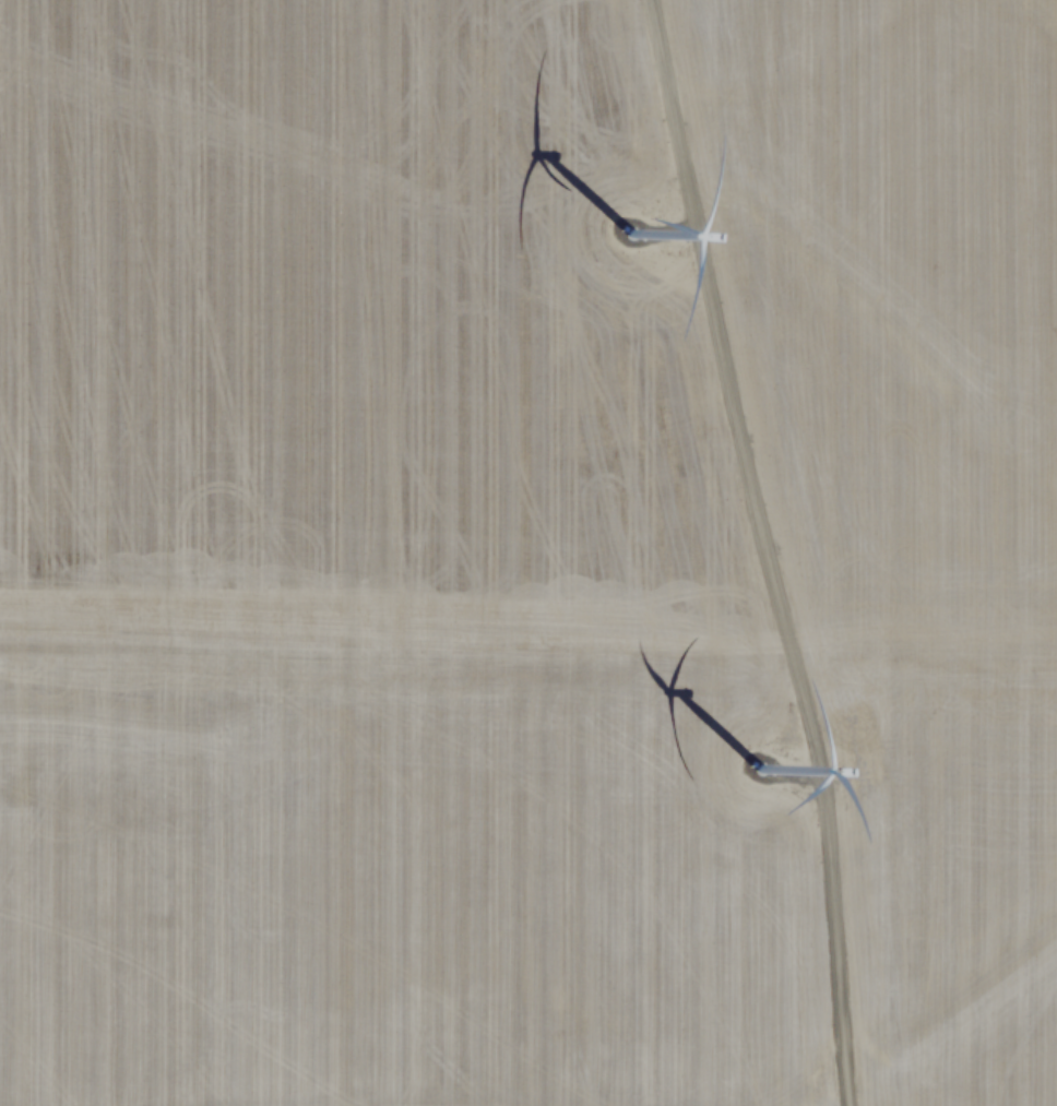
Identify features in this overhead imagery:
wind turbine: (628, 242)
road: (765, 549)
wind turbine: (765, 781)

